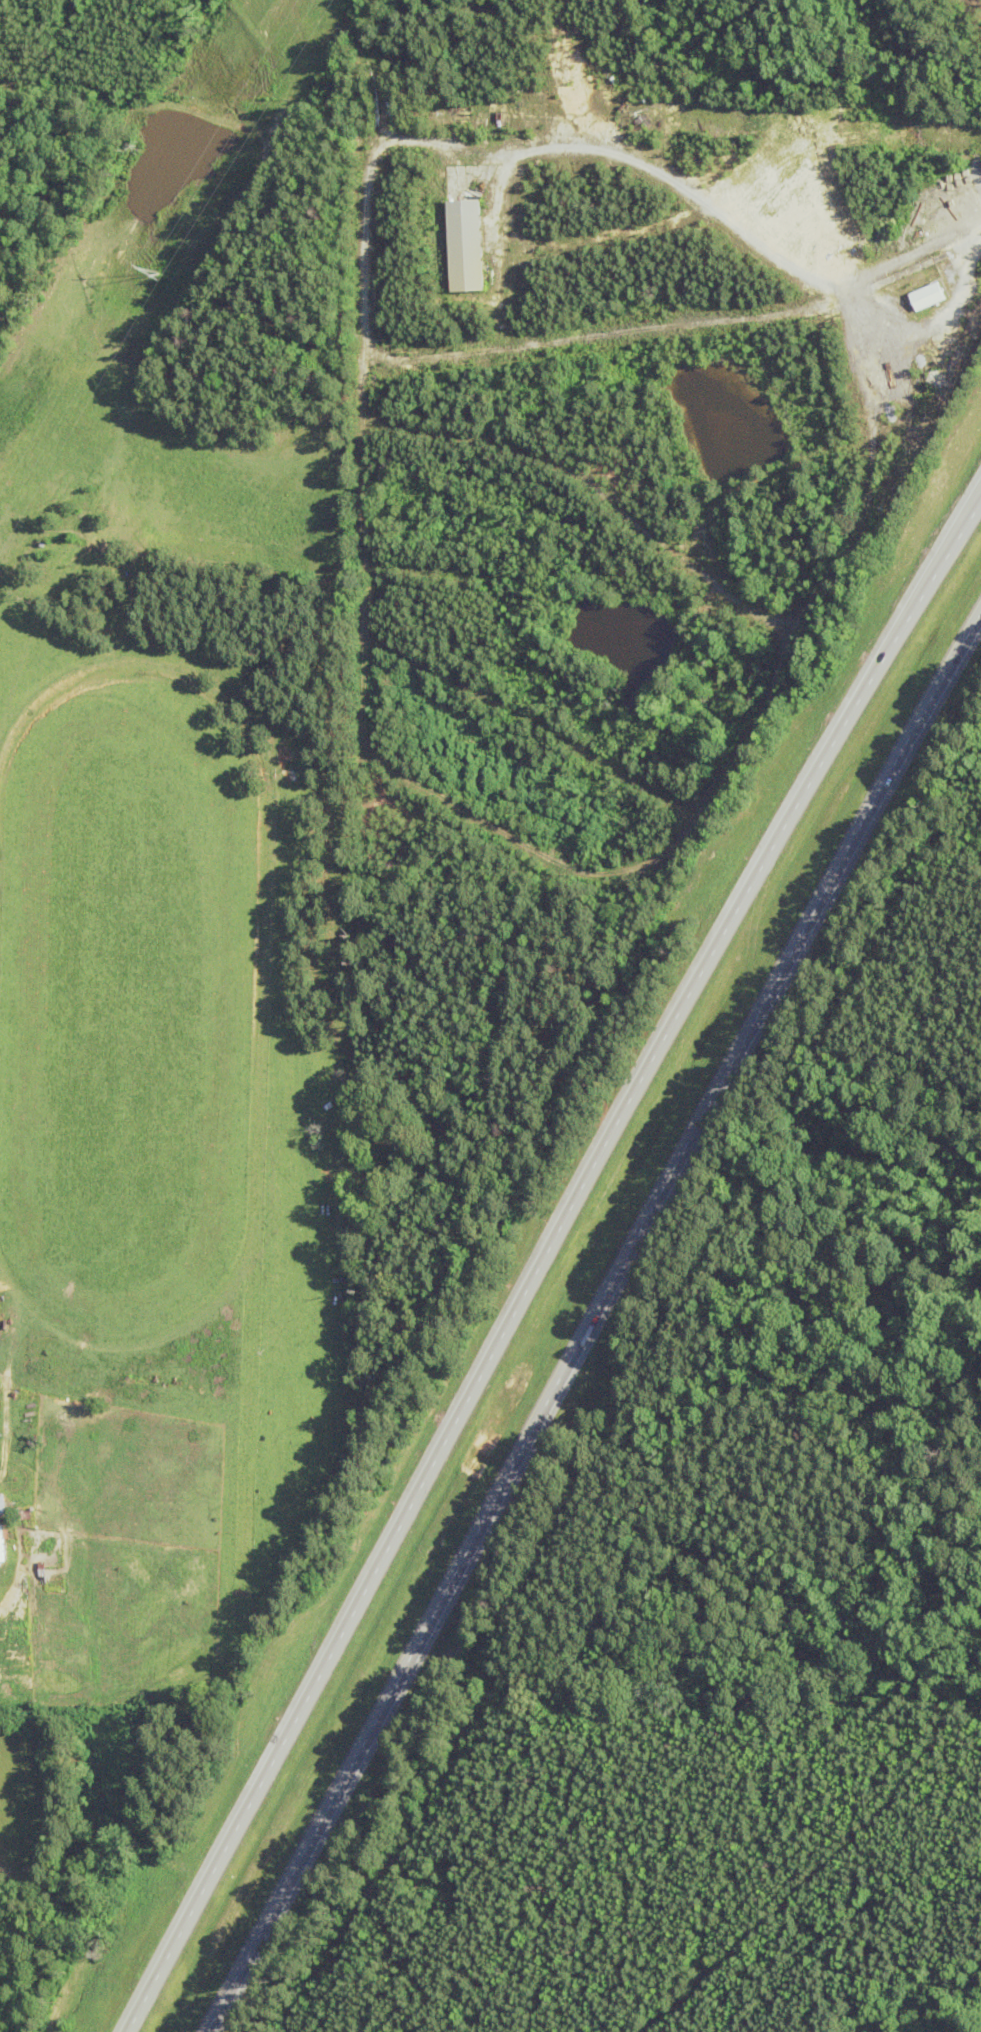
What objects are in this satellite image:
building: (466, 245)
power tower: (157, 272)
building: (928, 296)
raceway: (269, 822)
road: (542, 1260)
road: (615, 1273)
raceway: (130, 1343)
raceway: (250, 1412)
building: (2, 1503)
building: (1, 1543)
road: (230, 1984)

